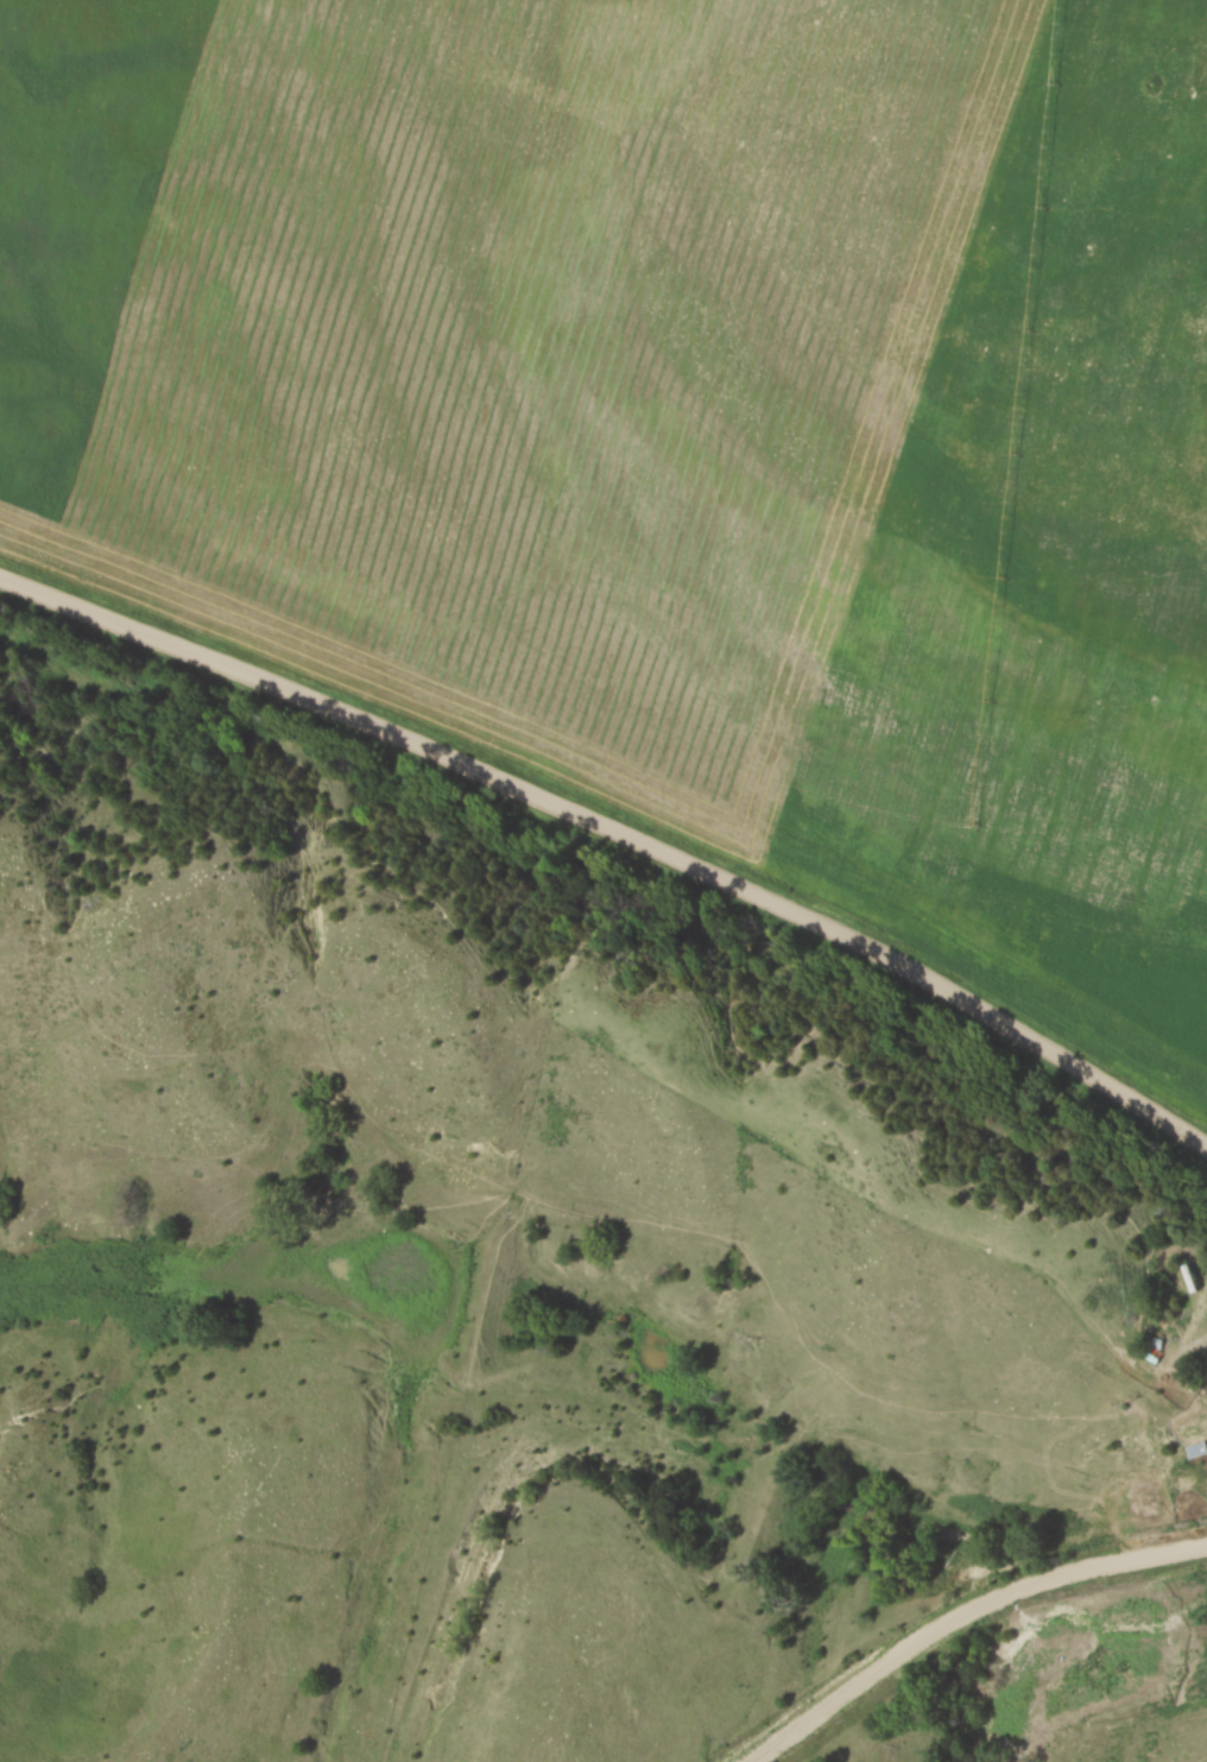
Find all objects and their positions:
road: (617, 836)
building: (1192, 1280)
building: (1200, 1452)
road: (962, 1617)

